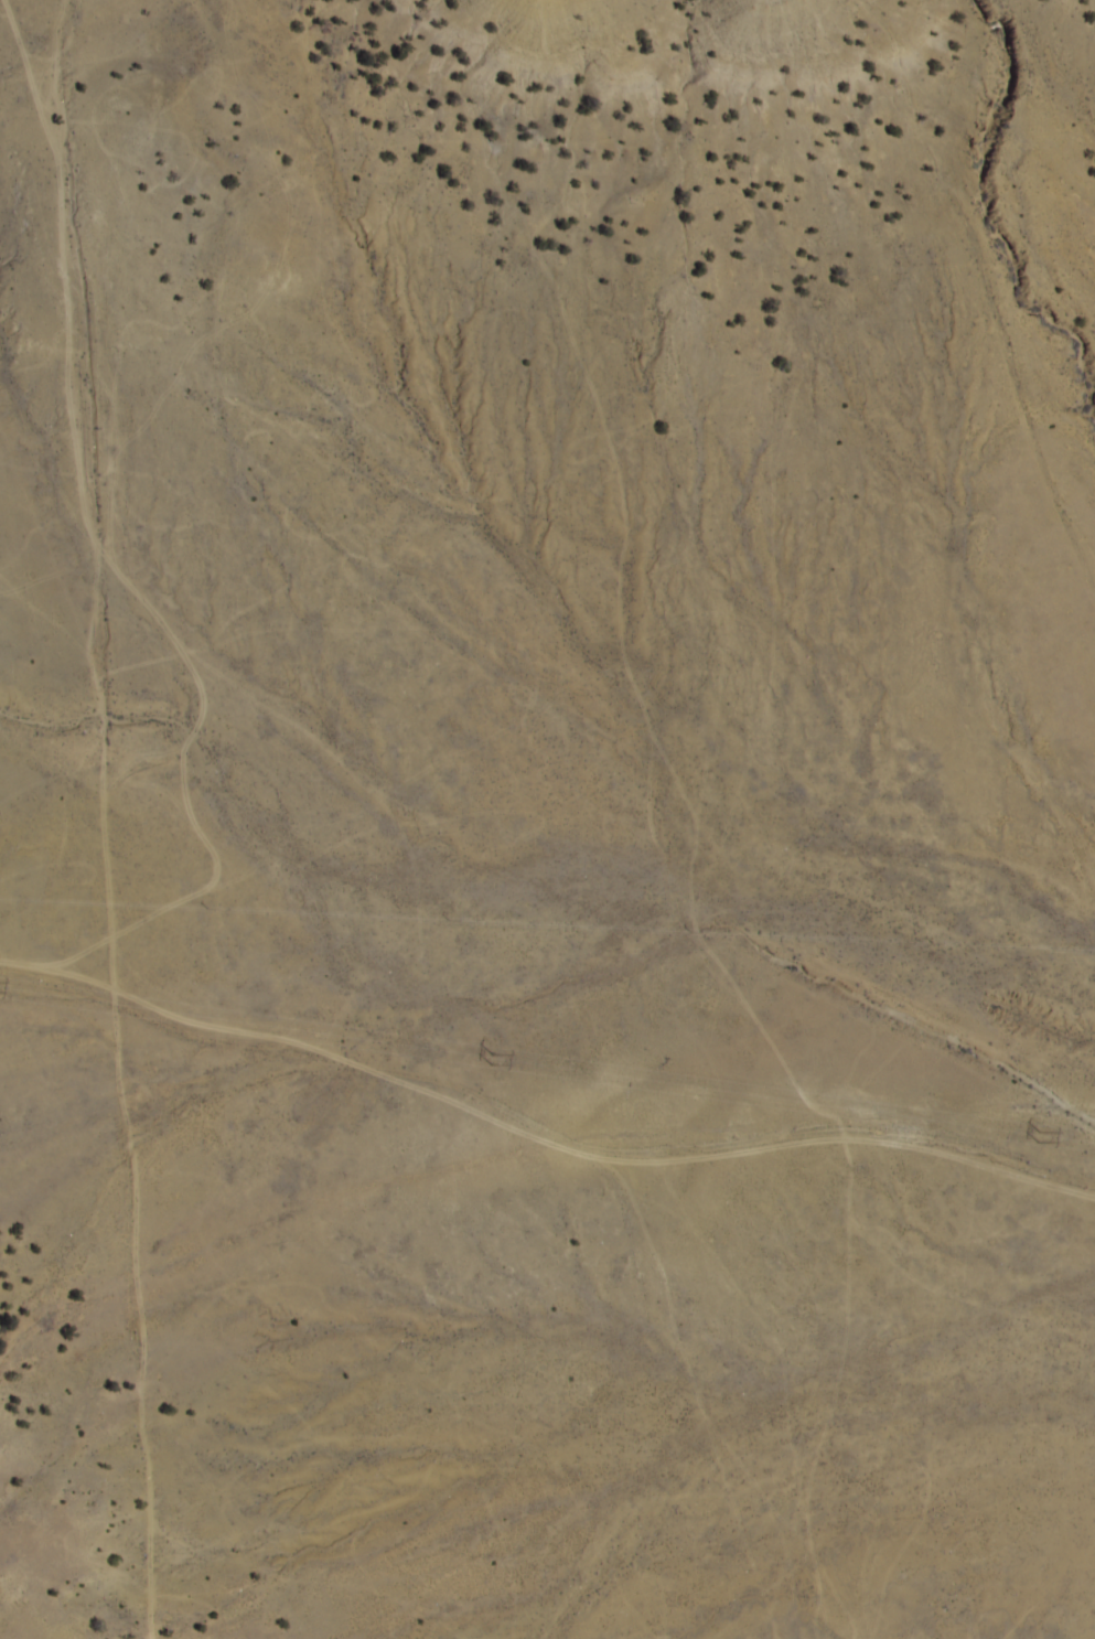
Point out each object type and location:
power tower: (494, 1061)
power tower: (1041, 1137)

